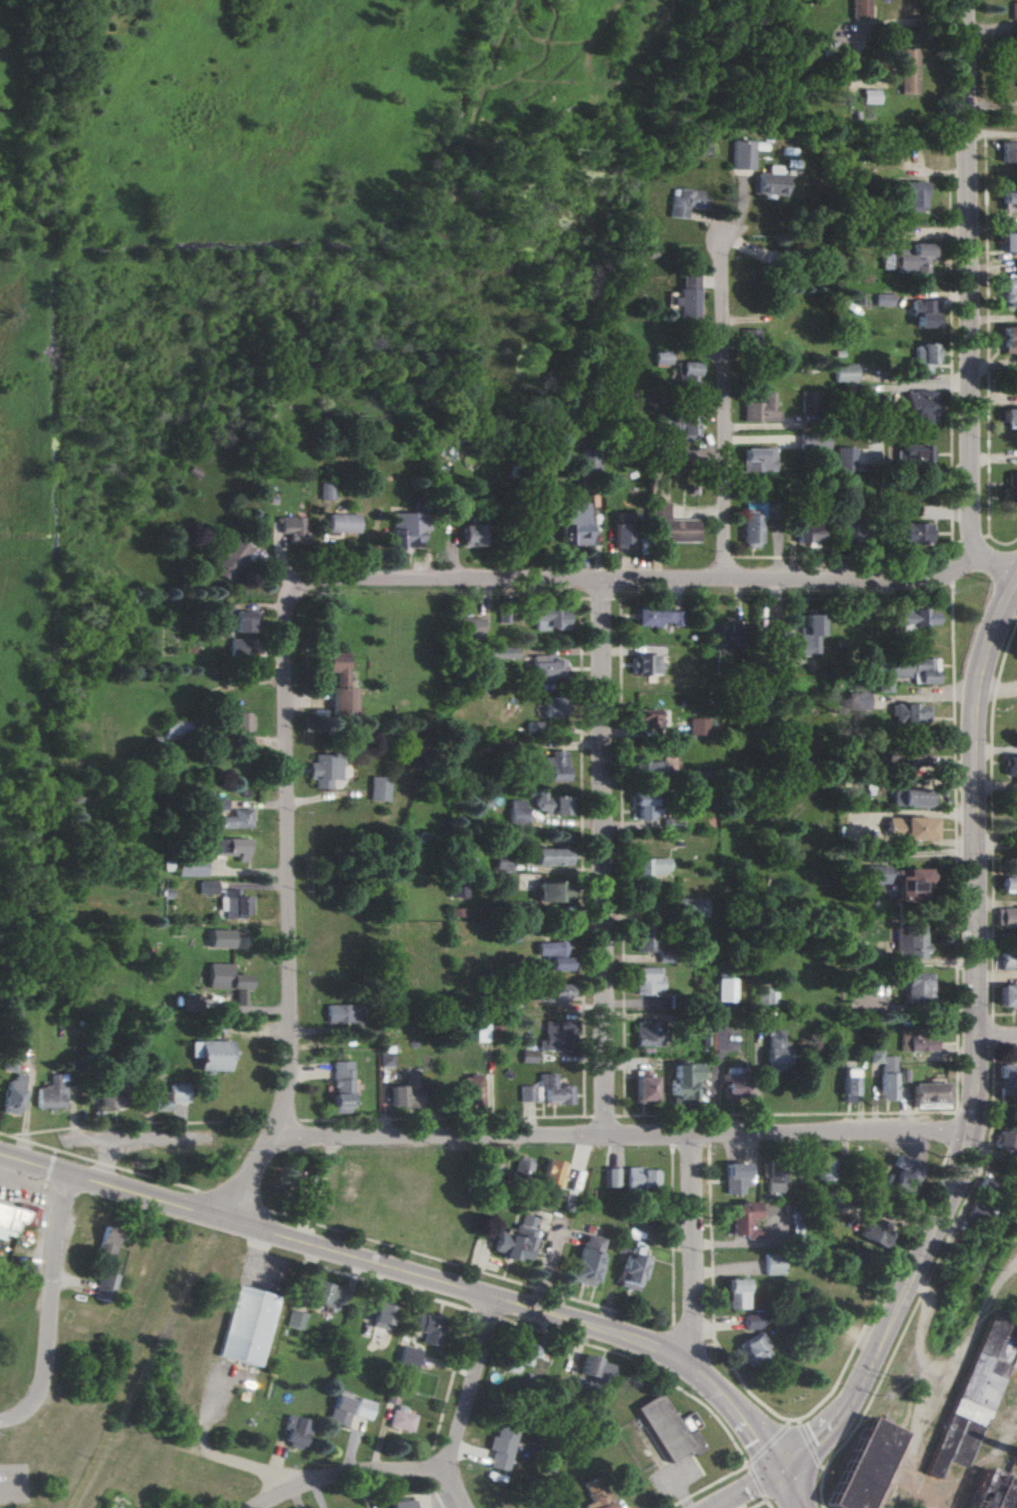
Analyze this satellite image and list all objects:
building: (858, 9)
building: (1014, 12)
road: (917, 16)
building: (905, 71)
building: (1016, 75)
building: (868, 96)
building: (1012, 152)
building: (743, 155)
building: (912, 196)
building: (1009, 198)
building: (685, 202)
building: (1009, 245)
building: (913, 258)
building: (1008, 292)
building: (687, 297)
building: (882, 299)
road: (972, 299)
building: (922, 312)
building: (750, 338)
building: (1009, 339)
road: (987, 350)
building: (922, 357)
building: (661, 358)
road: (951, 369)
building: (844, 373)
building: (686, 375)
building: (808, 402)
road: (725, 403)
building: (921, 405)
building: (760, 409)
building: (1009, 417)
building: (677, 425)
building: (813, 442)
building: (911, 456)
building: (758, 459)
building: (844, 459)
building: (589, 462)
building: (1011, 485)
building: (325, 491)
building: (748, 509)
building: (341, 523)
building: (576, 524)
building: (671, 525)
building: (407, 528)
building: (292, 529)
building: (621, 531)
building: (750, 531)
building: (851, 531)
building: (807, 532)
building: (915, 533)
building: (470, 535)
building: (230, 560)
road: (952, 571)
road: (639, 581)
building: (503, 617)
building: (657, 617)
building: (914, 617)
building: (547, 618)
building: (237, 620)
building: (467, 626)
building: (725, 634)
building: (774, 635)
building: (806, 637)
building: (237, 647)
road: (1005, 649)
building: (501, 652)
building: (645, 664)
building: (546, 668)
building: (912, 669)
building: (339, 685)
road: (999, 687)
road: (994, 689)
building: (856, 700)
building: (552, 708)
building: (908, 714)
building: (643, 717)
building: (237, 721)
building: (697, 726)
building: (173, 730)
building: (910, 756)
building: (552, 766)
building: (1011, 768)
building: (324, 770)
building: (379, 788)
building: (908, 796)
building: (215, 804)
building: (550, 804)
building: (516, 811)
building: (1016, 817)
building: (233, 819)
building: (905, 828)
building: (230, 848)
road: (953, 850)
building: (549, 856)
road: (604, 858)
building: (502, 860)
road: (989, 860)
building: (189, 866)
building: (653, 866)
building: (1007, 878)
building: (895, 881)
building: (205, 887)
building: (551, 891)
building: (233, 905)
building: (689, 907)
road: (291, 913)
building: (1004, 916)
building: (643, 937)
building: (901, 941)
building: (846, 952)
building: (553, 954)
building: (1005, 963)
building: (226, 979)
building: (645, 981)
building: (911, 987)
building: (719, 990)
building: (555, 993)
building: (1005, 995)
building: (763, 997)
building: (342, 1013)
building: (481, 1032)
building: (648, 1033)
road: (989, 1033)
building: (556, 1035)
road: (994, 1039)
building: (910, 1040)
building: (10, 1049)
building: (770, 1051)
building: (210, 1054)
building: (526, 1056)
building: (870, 1056)
road: (970, 1057)
building: (384, 1059)
building: (882, 1078)
building: (1005, 1079)
building: (680, 1082)
building: (730, 1083)
building: (843, 1085)
building: (340, 1086)
building: (642, 1088)
building: (469, 1090)
building: (544, 1091)
building: (403, 1092)
building: (925, 1092)
building: (52, 1093)
building: (12, 1095)
building: (109, 1098)
road: (783, 1114)
road: (602, 1116)
road: (445, 1119)
road: (281, 1121)
road: (136, 1123)
road: (949, 1133)
road: (9, 1136)
road: (621, 1137)
road: (136, 1139)
building: (1005, 1140)
road: (26, 1141)
road: (706, 1141)
road: (669, 1142)
road: (66, 1152)
road: (55, 1153)
road: (107, 1162)
road: (105, 1164)
building: (519, 1167)
road: (50, 1169)
building: (489, 1170)
building: (821, 1170)
road: (977, 1170)
building: (550, 1173)
building: (900, 1175)
building: (609, 1177)
building: (731, 1177)
building: (770, 1178)
road: (156, 1179)
building: (639, 1179)
building: (981, 1185)
road: (47, 1188)
road: (64, 1195)
road: (232, 1201)
building: (976, 1215)
building: (16, 1218)
building: (736, 1220)
building: (872, 1235)
building: (513, 1240)
building: (106, 1241)
road: (688, 1252)
building: (585, 1260)
building: (769, 1264)
building: (627, 1266)
road: (414, 1277)
road: (58, 1286)
building: (105, 1286)
road: (386, 1286)
road: (921, 1289)
building: (733, 1293)
building: (325, 1294)
road: (553, 1294)
building: (379, 1315)
road: (485, 1315)
building: (294, 1319)
building: (750, 1321)
building: (246, 1325)
road: (670, 1326)
building: (425, 1328)
road: (919, 1332)
road: (686, 1337)
road: (709, 1345)
building: (750, 1349)
building: (517, 1355)
building: (405, 1358)
road: (951, 1365)
road: (640, 1367)
road: (449, 1379)
building: (979, 1396)
road: (867, 1403)
road: (457, 1405)
building: (360, 1408)
building: (337, 1409)
road: (26, 1418)
building: (398, 1419)
road: (793, 1420)
road: (797, 1422)
road: (786, 1423)
building: (665, 1430)
building: (294, 1431)
road: (766, 1444)
road: (808, 1445)
building: (498, 1447)
road: (232, 1462)
building: (863, 1466)
road: (820, 1468)
road: (346, 1476)
traffic signals: (777, 1477)
road: (755, 1482)
road: (887, 1485)
road: (707, 1486)
road: (741, 1490)
road: (786, 1492)
building: (998, 1492)
road: (965, 1493)
building: (593, 1494)
road: (433, 1496)
road: (921, 1498)
road: (879, 1499)
road: (766, 1502)
building: (398, 1504)
road: (758, 1504)
road: (719, 1505)
road: (918, 1506)

